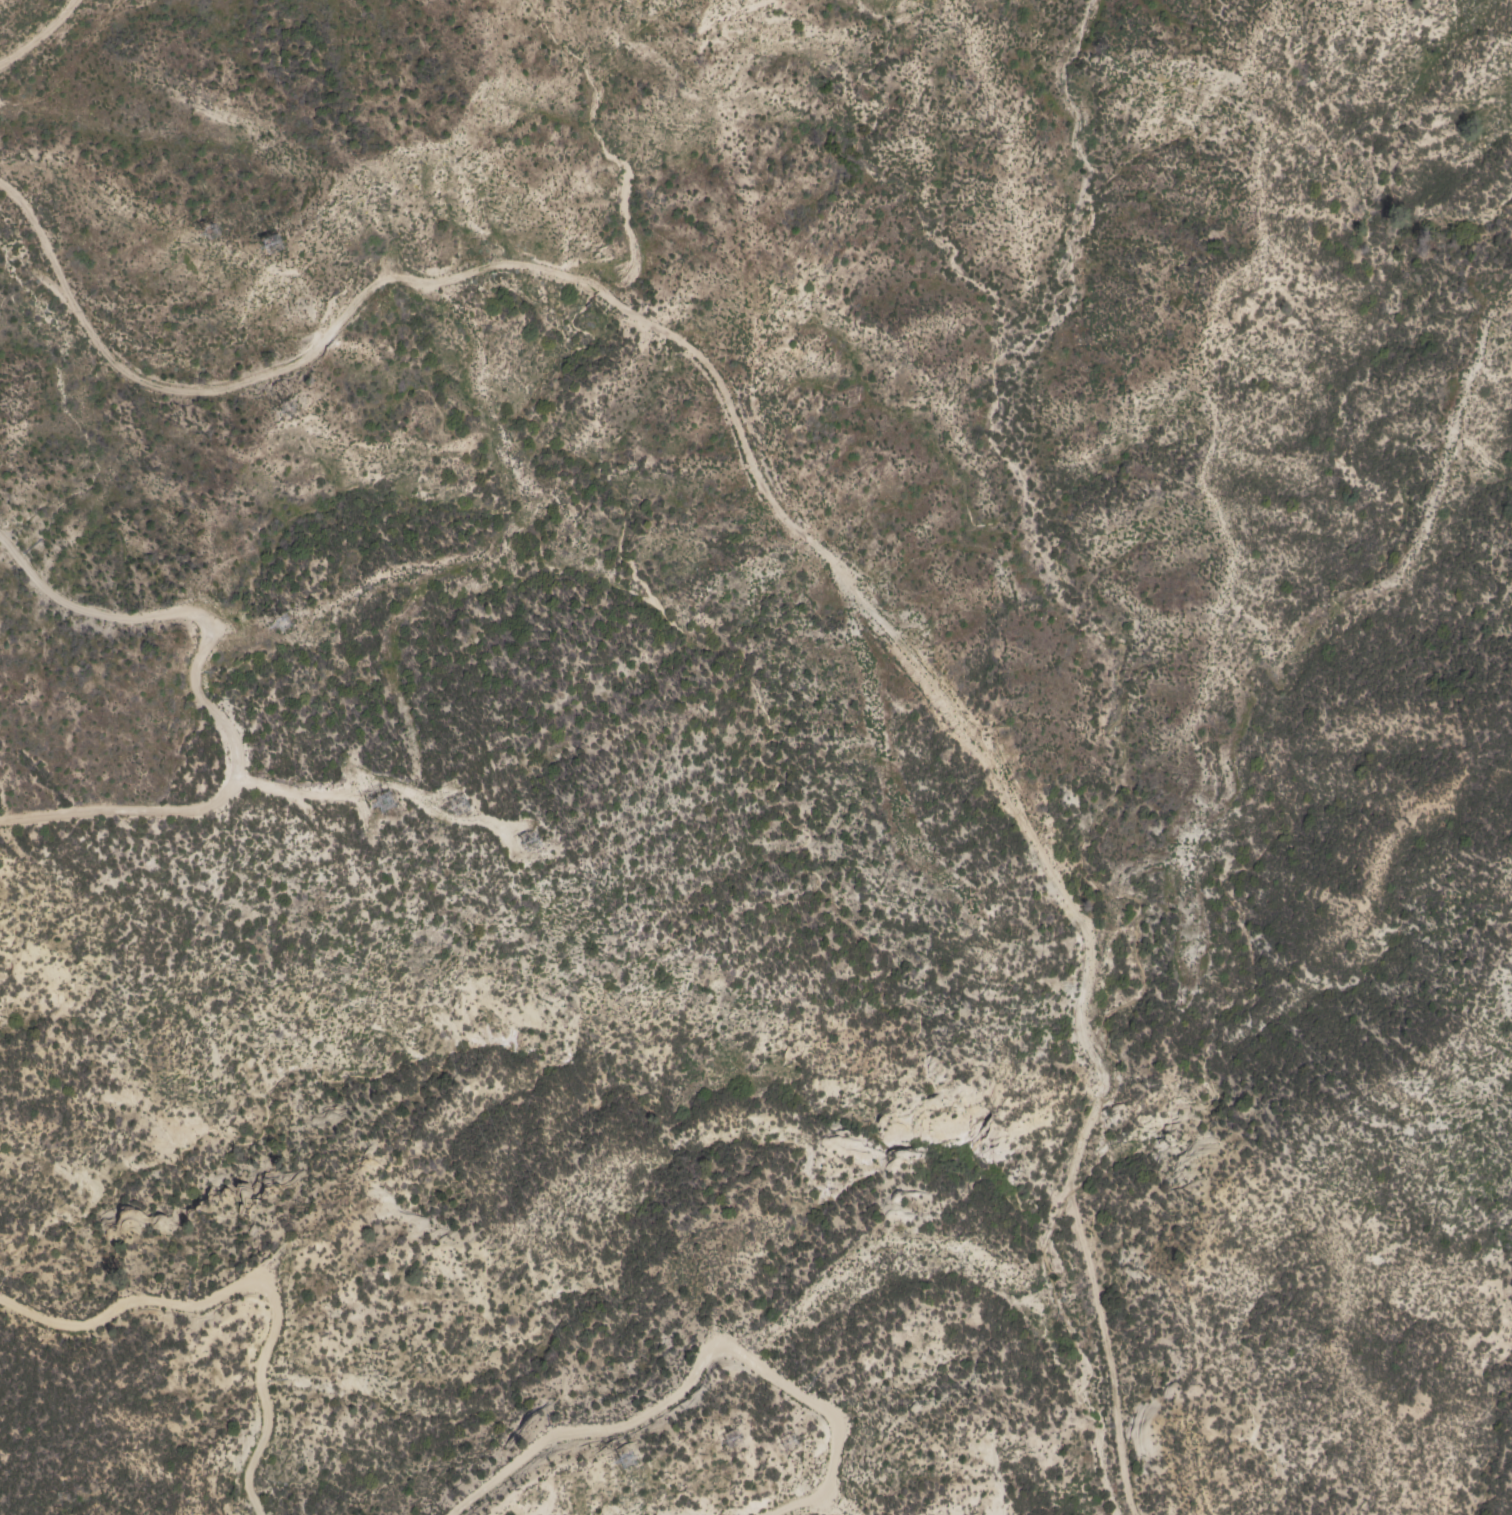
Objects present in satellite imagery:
power tower: (219, 235)
power tower: (277, 243)
power tower: (292, 417)
road: (804, 540)
power tower: (284, 618)
power tower: (387, 803)
power tower: (462, 804)
power tower: (535, 836)
power tower: (734, 1440)
power tower: (792, 1442)
power tower: (627, 1462)

